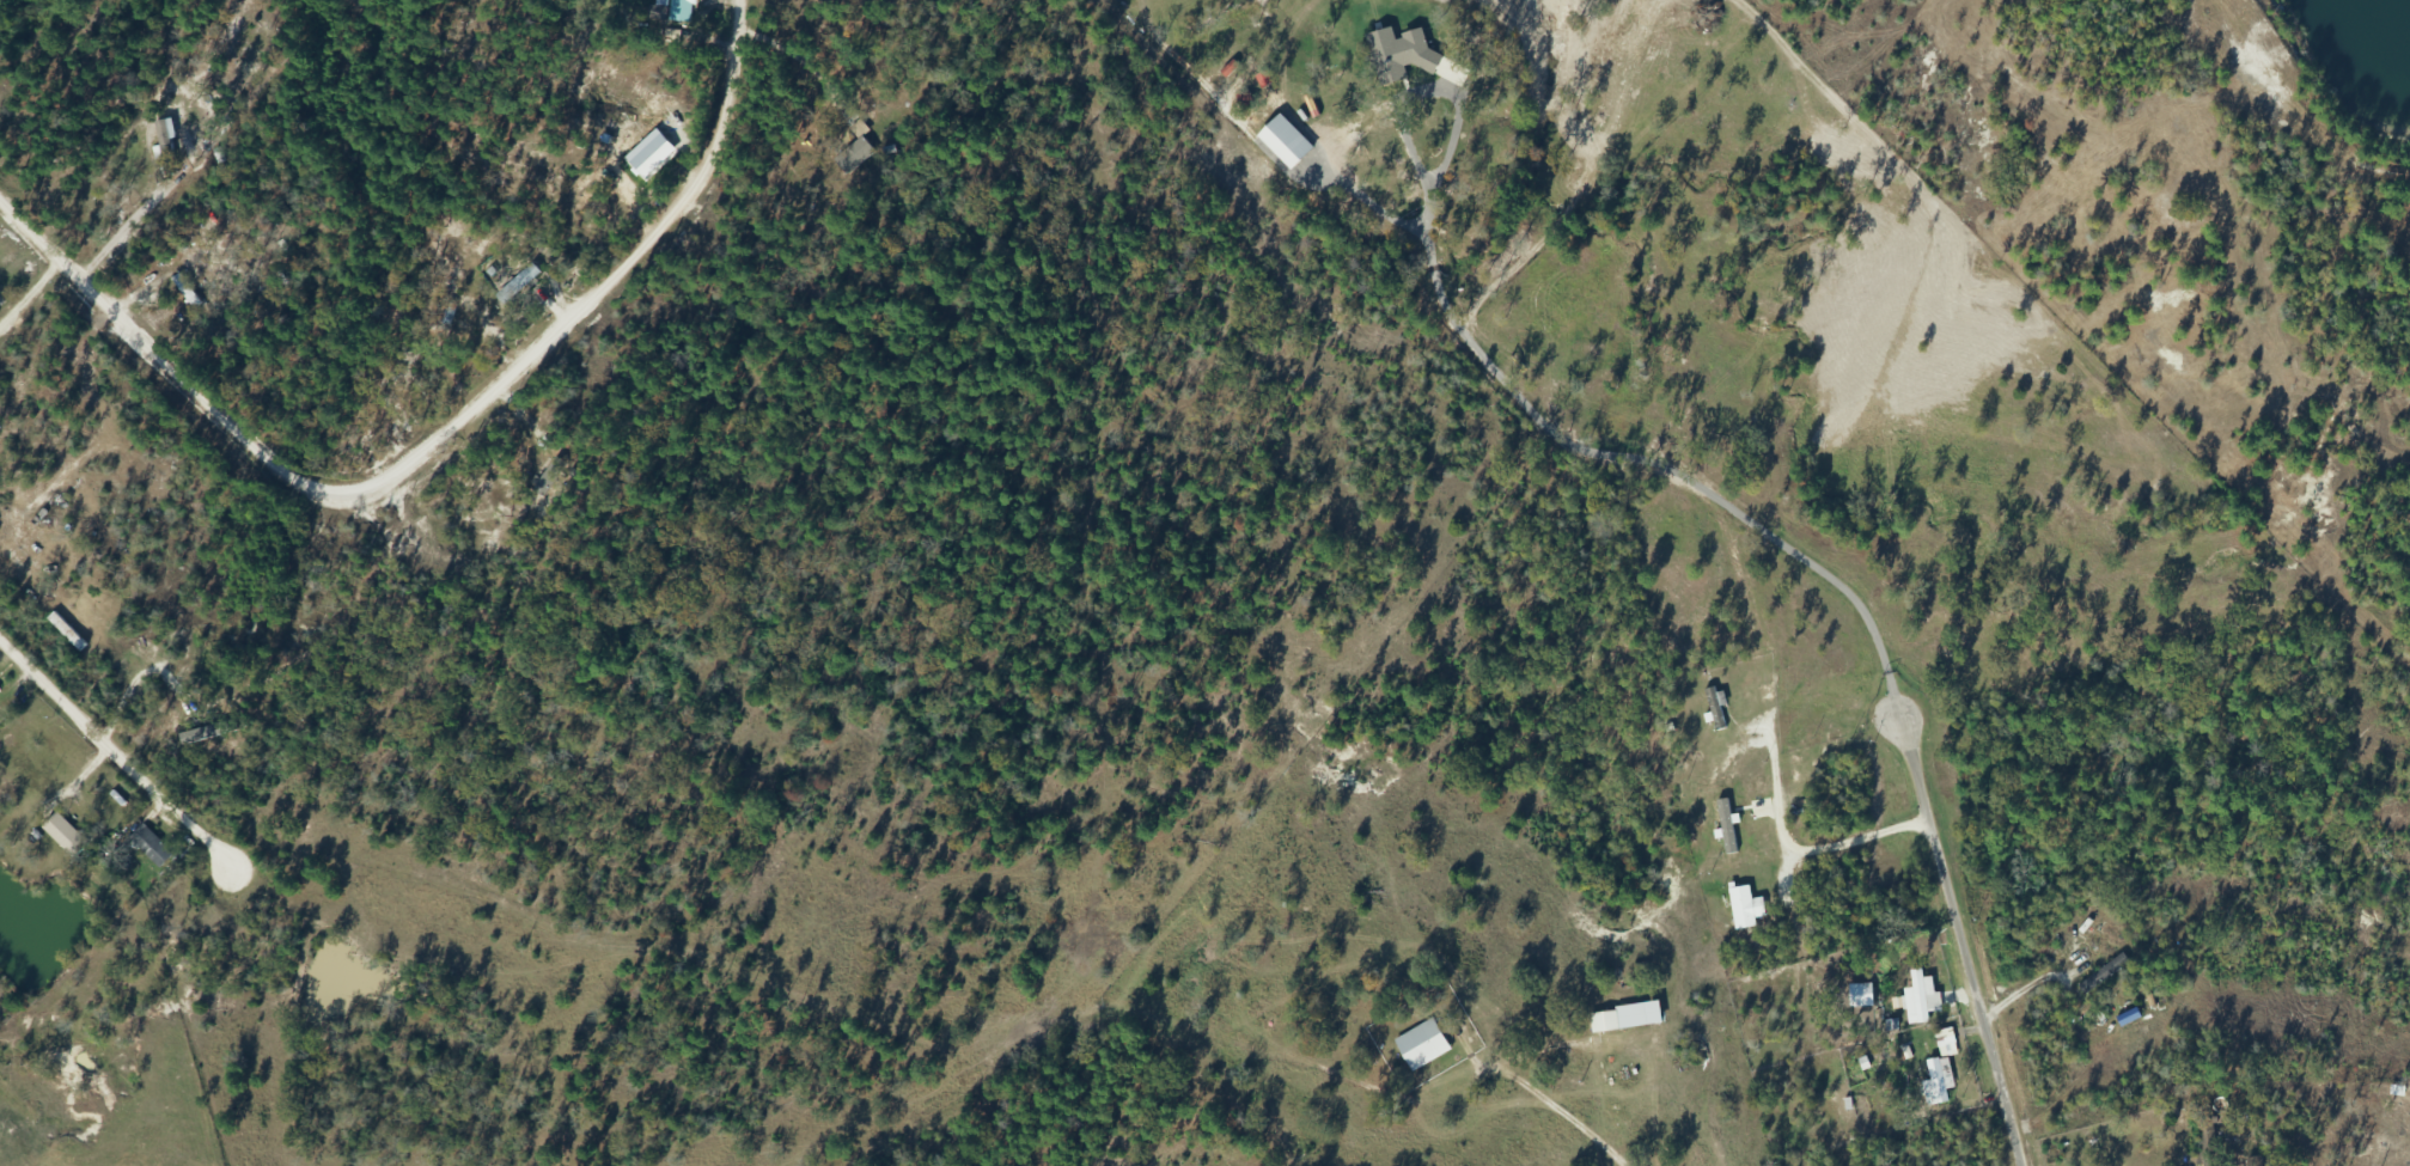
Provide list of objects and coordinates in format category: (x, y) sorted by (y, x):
building: (672, 12)
building: (1398, 68)
building: (1359, 129)
building: (166, 148)
building: (854, 152)
building: (515, 286)
road: (428, 439)
building: (1715, 709)
road: (111, 746)
building: (62, 835)
building: (150, 848)
building: (2103, 975)
road: (2034, 994)
road: (1527, 1019)
building: (1603, 1022)
building: (1420, 1046)
road: (2007, 1094)
building: (2207, 1136)

